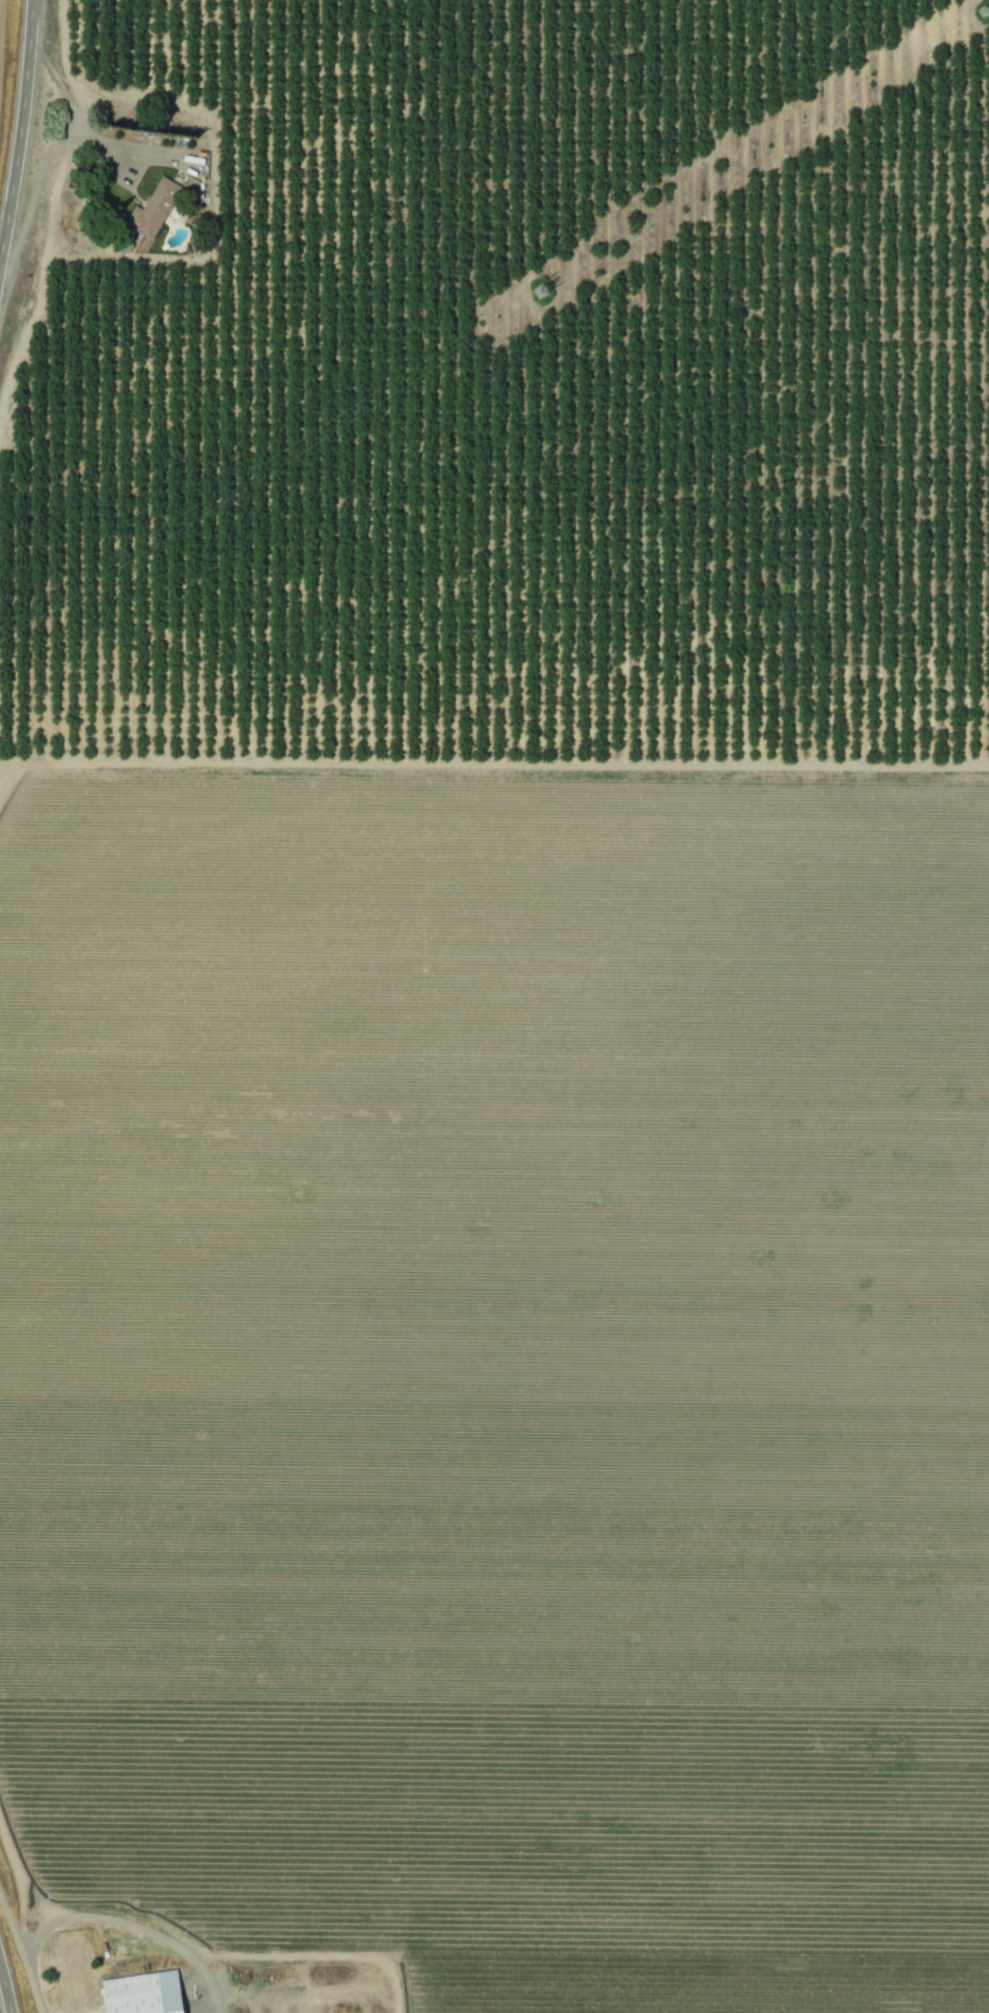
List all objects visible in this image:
road: (77, 116)
road: (20, 126)
road: (50, 197)
building: (157, 208)
power tower: (547, 296)
road: (494, 757)
road: (28, 773)
crop: (501, 1374)
road: (43, 1900)
road: (135, 1921)
road: (209, 1935)
road: (20, 1949)
road: (5, 1989)
building: (147, 1993)
road: (308, 1999)

